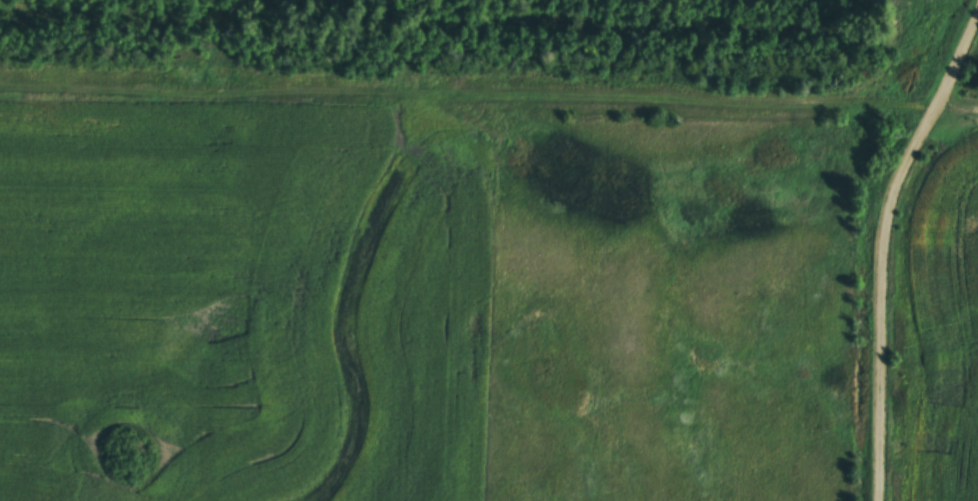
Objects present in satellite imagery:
road: (884, 247)

